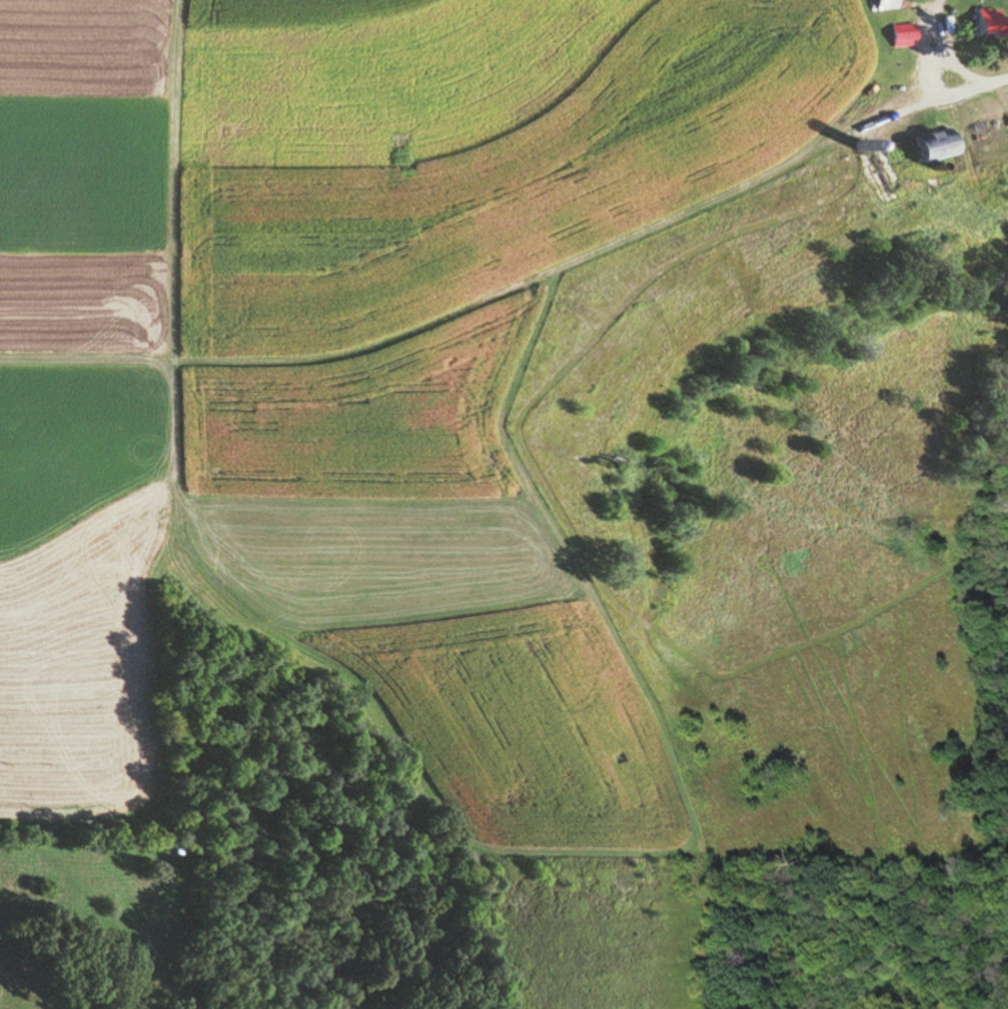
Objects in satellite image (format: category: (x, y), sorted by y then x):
building: (894, 5)
building: (987, 24)
building: (905, 36)
road: (925, 64)
road: (998, 83)
building: (939, 147)

